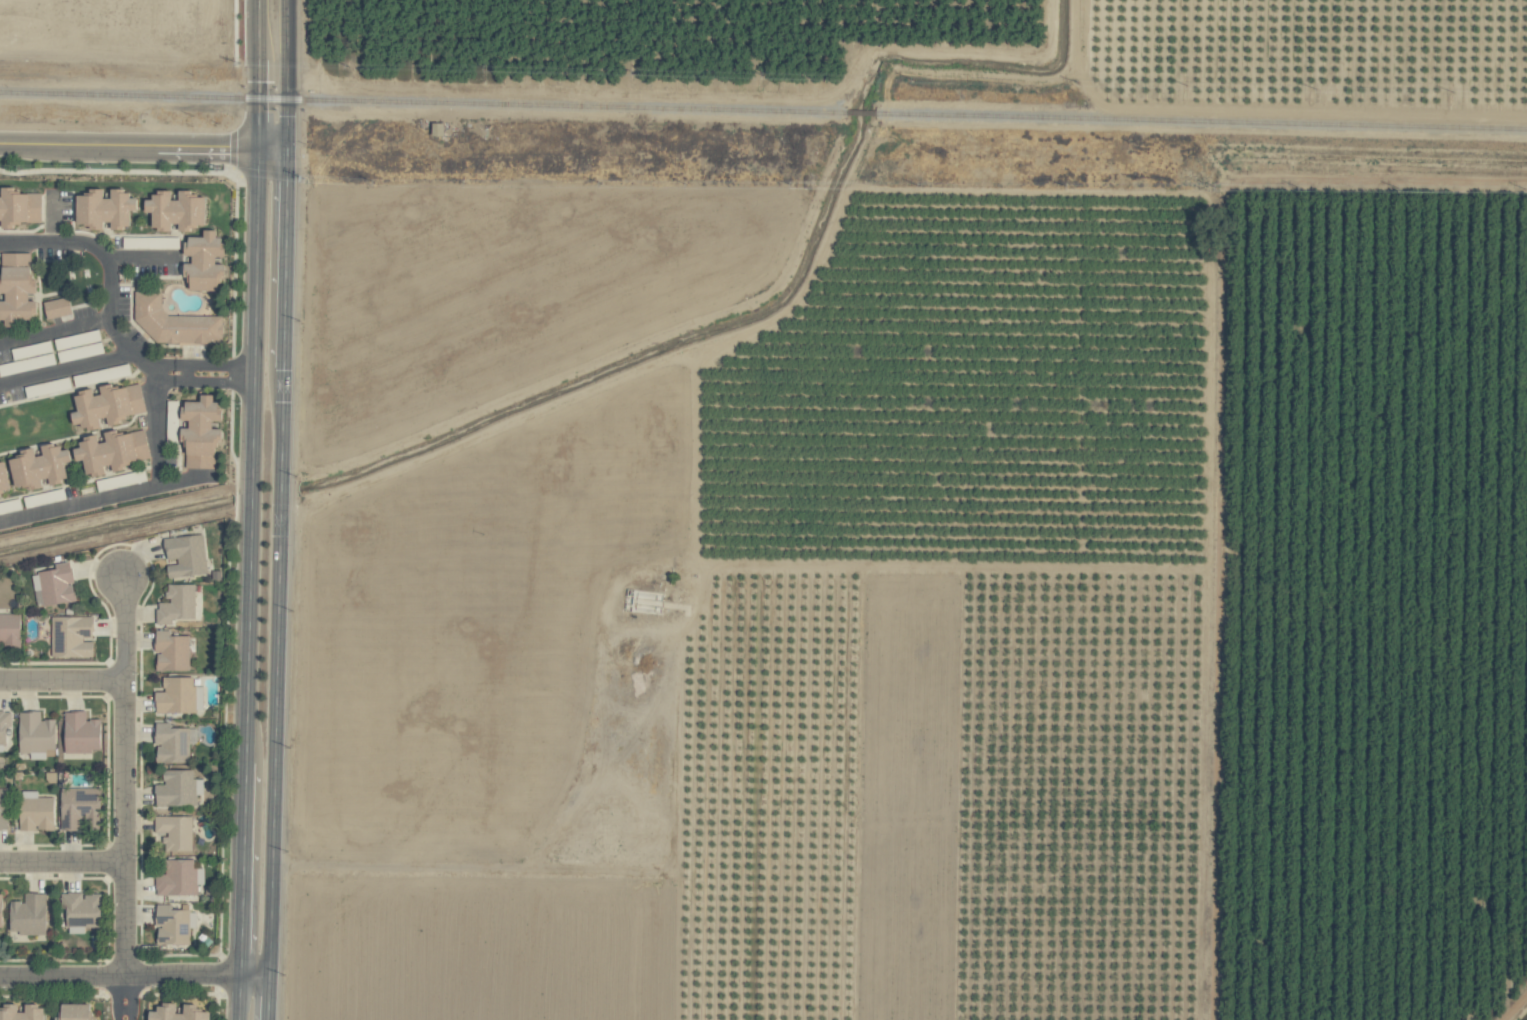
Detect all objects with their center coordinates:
crop: (124, 78)
railway: (422, 103)
railway: (861, 113)
railway: (1201, 121)
road: (143, 146)
building: (19, 207)
building: (106, 208)
building: (176, 209)
road: (138, 258)
building: (205, 261)
park: (72, 278)
building: (17, 288)
building: (57, 307)
road: (108, 316)
building: (175, 322)
road: (54, 330)
crop: (985, 364)
road: (66, 366)
road: (184, 372)
road: (149, 374)
building: (107, 405)
road: (74, 419)
building: (201, 432)
building: (112, 450)
road: (156, 464)
building: (39, 466)
building: (3, 478)
crop: (888, 509)
road: (251, 510)
road: (281, 510)
building: (186, 556)
building: (57, 585)
building: (177, 604)
road: (125, 628)
building: (10, 630)
building: (73, 636)
building: (172, 651)
road: (62, 681)
building: (180, 696)
building: (4, 725)
building: (36, 733)
building: (82, 733)
building: (174, 743)
building: (178, 789)
building: (79, 806)
building: (3, 810)
building: (37, 813)
road: (125, 829)
building: (176, 831)
road: (63, 863)
building: (177, 878)
building: (83, 910)
building: (1, 911)
building: (28, 915)
building: (174, 925)
road: (135, 976)
road: (116, 997)
road: (131, 998)
road: (123, 1010)
building: (197, 1011)
building: (23, 1012)
building: (76, 1012)

